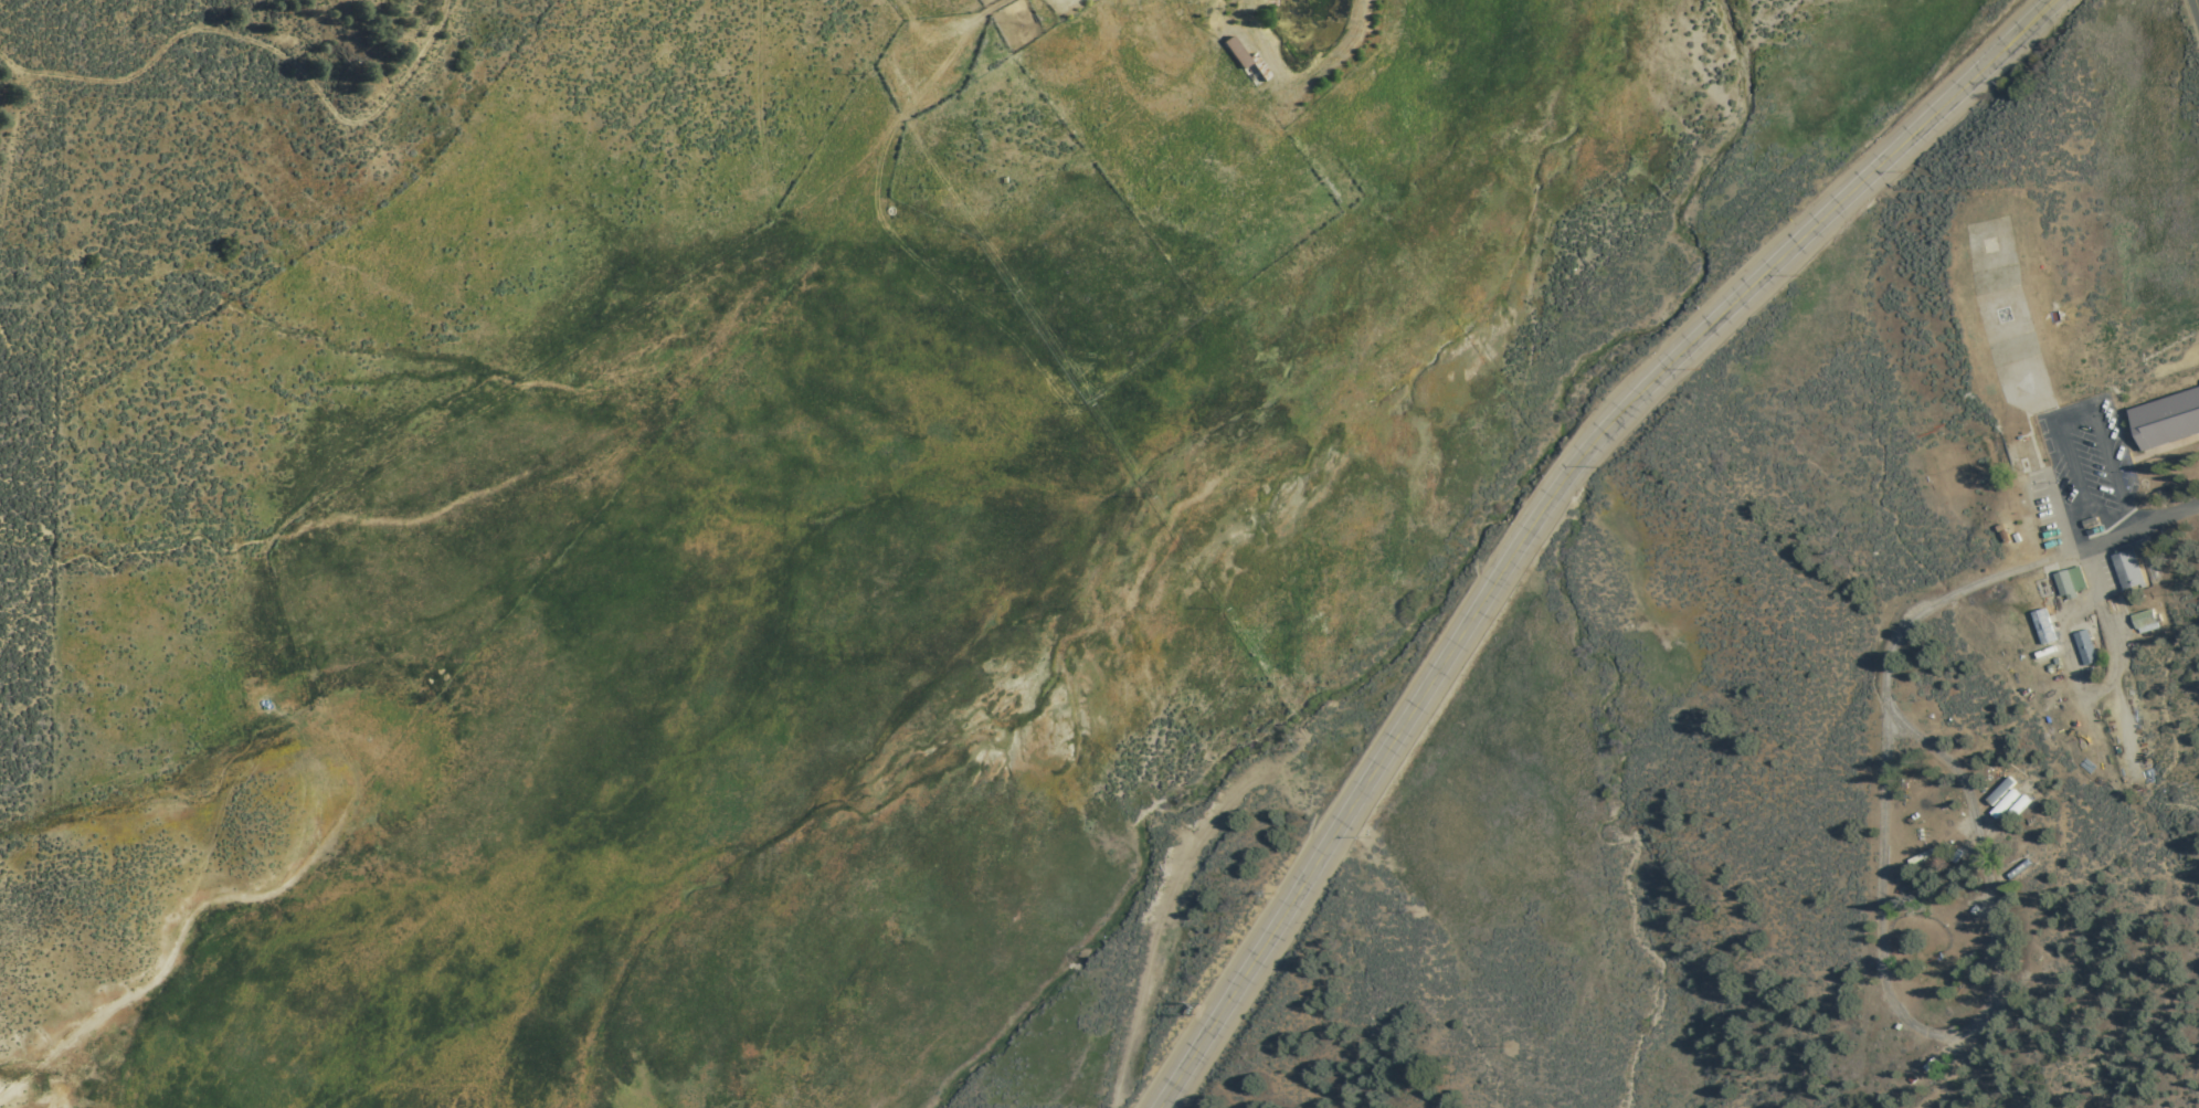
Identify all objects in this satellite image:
road: (2197, 2)
road: (202, 31)
road: (11, 60)
helipad: (1987, 245)
helipad: (2001, 310)
helipad: (2026, 384)
road: (2078, 414)
building: (2169, 421)
road: (2108, 450)
building: (2029, 453)
building: (2012, 458)
road: (2073, 458)
road: (2085, 498)
road: (1547, 505)
road: (2127, 508)
road: (2122, 529)
building: (2126, 568)
building: (2071, 581)
building: (2145, 622)
building: (2043, 626)
building: (2084, 646)
road: (2103, 686)
road: (1886, 767)
building: (2004, 795)
road: (1983, 866)
road: (191, 915)
road: (1952, 1073)

